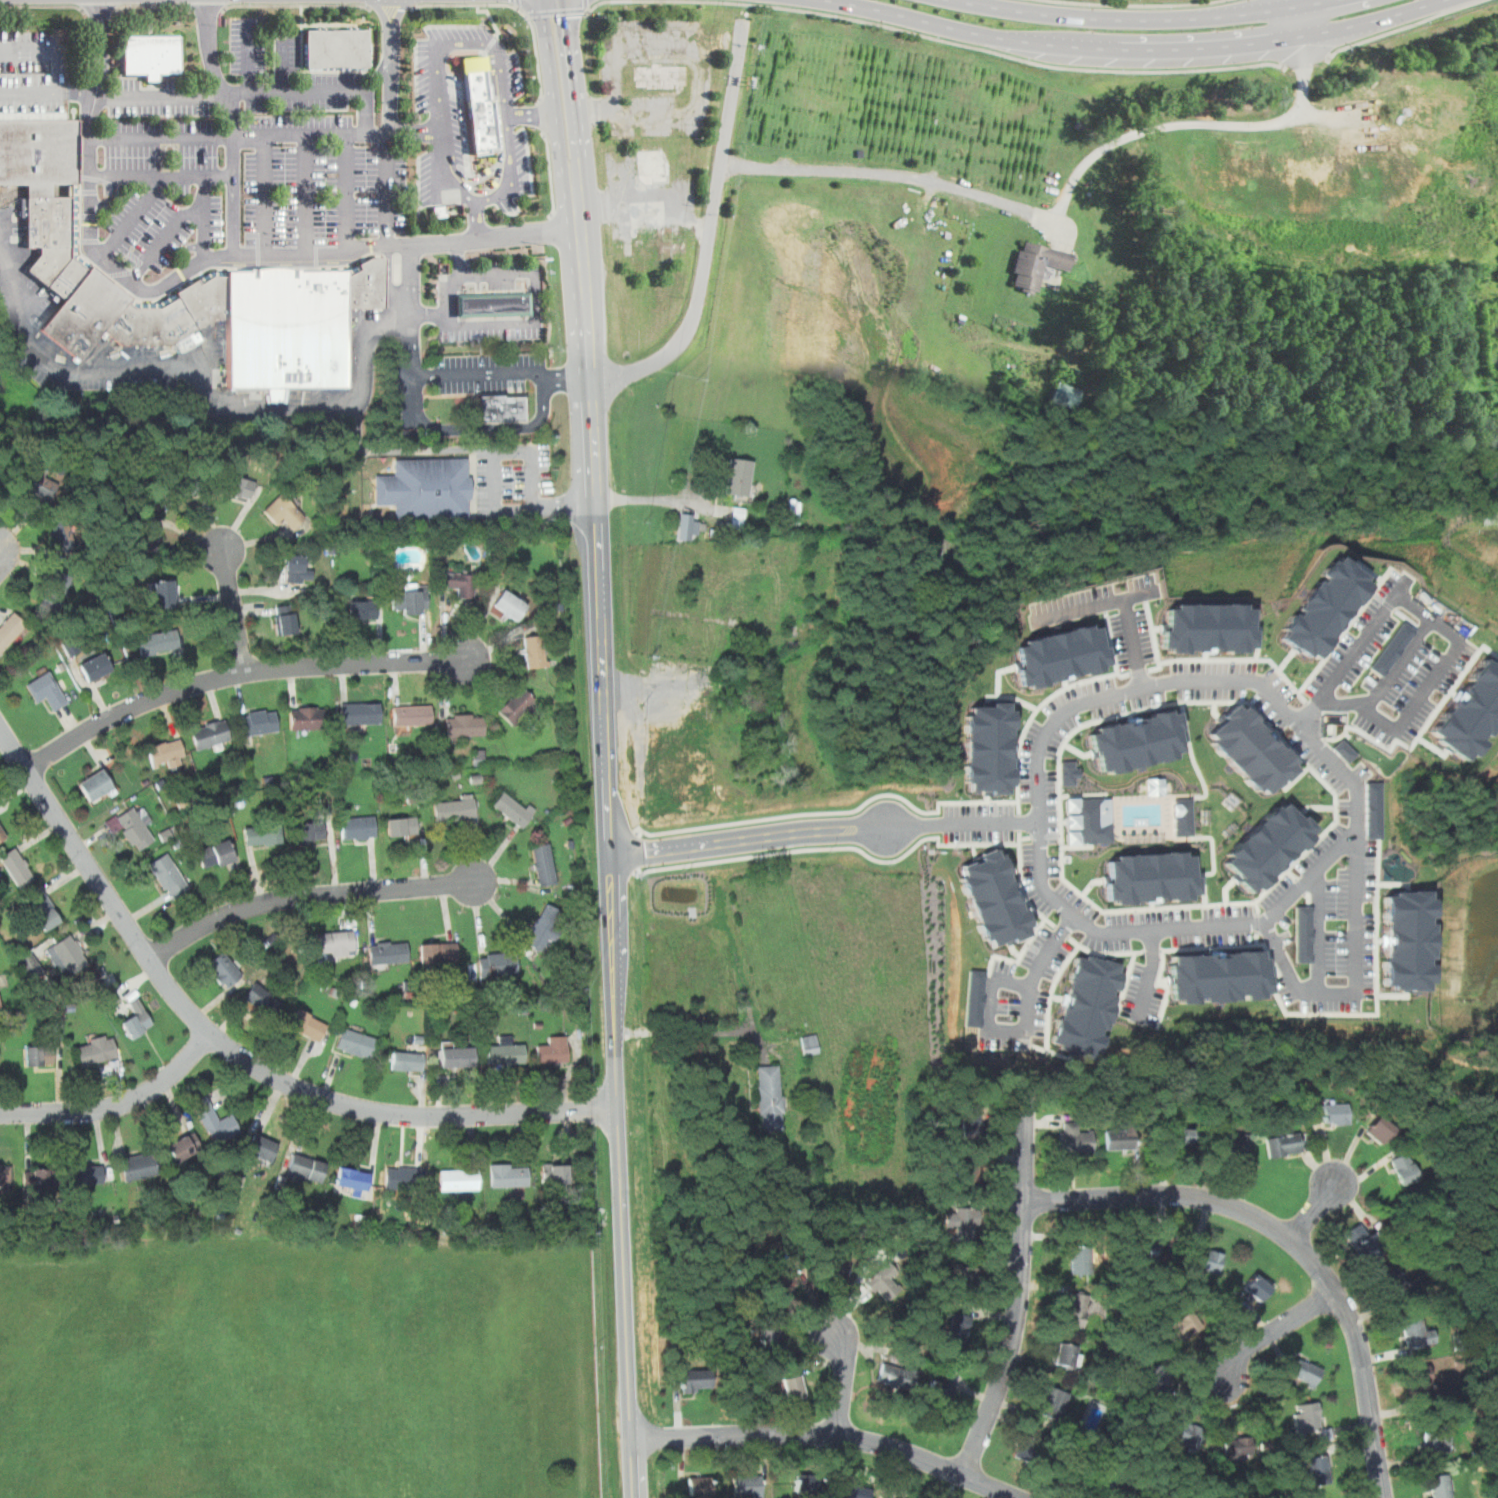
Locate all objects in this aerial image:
road: (1294, 1)
road: (518, 2)
road: (295, 3)
road: (1141, 3)
road: (151, 4)
road: (585, 4)
road: (43, 5)
road: (392, 5)
road: (515, 5)
road: (518, 5)
road: (593, 5)
road: (100, 6)
road: (206, 6)
road: (557, 9)
road: (527, 13)
road: (490, 15)
traffic signals: (569, 16)
road: (1133, 16)
road: (1299, 19)
road: (1398, 26)
road: (493, 40)
road: (977, 45)
building: (337, 46)
road: (1140, 49)
building: (152, 53)
road: (250, 56)
road: (1302, 59)
road: (58, 61)
road: (283, 65)
road: (251, 92)
road: (579, 94)
road: (29, 96)
road: (553, 96)
crop: (903, 103)
building: (479, 104)
road: (530, 112)
road: (541, 114)
parking lot: (471, 119)
road: (390, 123)
road: (231, 125)
road: (415, 131)
road: (240, 135)
road: (500, 135)
parking lot: (248, 146)
building: (38, 152)
road: (551, 172)
road: (162, 174)
road: (510, 182)
road: (483, 187)
road: (349, 191)
road: (306, 192)
road: (266, 194)
road: (1061, 205)
road: (133, 215)
road: (479, 217)
road: (176, 222)
road: (710, 230)
building: (49, 233)
road: (204, 234)
road: (201, 259)
building: (1035, 263)
building: (68, 277)
road: (388, 282)
building: (367, 283)
road: (449, 288)
building: (205, 299)
building: (494, 303)
building: (86, 312)
road: (480, 322)
building: (151, 324)
building: (287, 327)
road: (436, 376)
parking lot: (458, 381)
building: (1063, 394)
building: (503, 409)
road: (282, 411)
road: (479, 427)
building: (738, 477)
road: (708, 483)
building: (39, 485)
building: (238, 487)
building: (183, 489)
building: (425, 489)
road: (495, 499)
road: (653, 500)
building: (283, 511)
building: (147, 534)
building: (62, 537)
road: (1361, 566)
building: (296, 568)
building: (460, 584)
building: (58, 587)
building: (164, 593)
building: (407, 601)
road: (1092, 602)
building: (509, 604)
building: (1318, 608)
road: (233, 609)
building: (362, 609)
building: (284, 619)
road: (1340, 623)
road: (1437, 627)
building: (1203, 628)
road: (1153, 629)
building: (10, 630)
road: (1337, 633)
building: (803, 634)
road: (1151, 636)
road: (1108, 637)
road: (1132, 641)
road: (1254, 641)
building: (157, 642)
road: (1107, 644)
building: (1389, 649)
building: (535, 651)
road: (1490, 651)
building: (1059, 656)
road: (1204, 657)
road: (1246, 660)
road: (1286, 663)
road: (1396, 665)
building: (95, 667)
road: (237, 673)
road: (998, 676)
road: (1066, 684)
building: (47, 691)
road: (1452, 693)
road: (1012, 697)
road: (1044, 703)
building: (515, 705)
road: (1216, 709)
road: (1319, 709)
building: (1470, 712)
building: (360, 713)
building: (412, 715)
road: (1132, 716)
building: (309, 718)
road: (1347, 721)
building: (258, 723)
building: (465, 725)
road: (1187, 730)
road: (1423, 730)
road: (1273, 731)
road: (1279, 733)
building: (210, 735)
road: (1348, 735)
building: (1139, 741)
road: (1310, 743)
building: (1340, 747)
road: (1433, 747)
building: (989, 748)
road: (1018, 748)
road: (1080, 750)
building: (1253, 750)
building: (165, 753)
building: (1348, 755)
road: (1195, 758)
building: (1072, 773)
road: (1299, 776)
building: (95, 785)
road: (1287, 786)
road: (1086, 795)
road: (1351, 795)
road: (1109, 796)
road: (989, 799)
road: (1317, 807)
building: (455, 808)
parking lot: (981, 808)
building: (514, 809)
road: (836, 811)
building: (1372, 811)
road: (607, 812)
road: (1067, 821)
building: (1090, 822)
fountain: (1146, 822)
building: (401, 826)
building: (358, 827)
building: (1181, 827)
building: (135, 828)
road: (824, 829)
building: (310, 830)
building: (2, 834)
building: (262, 834)
road: (1054, 835)
road: (1033, 837)
road: (1095, 844)
road: (1080, 846)
building: (1269, 847)
road: (829, 848)
road: (977, 850)
building: (215, 854)
road: (1216, 862)
building: (543, 865)
road: (1289, 866)
building: (16, 867)
road: (1024, 874)
road: (1203, 874)
road: (1293, 874)
building: (168, 875)
building: (1153, 878)
road: (1393, 883)
road: (1095, 885)
road: (1302, 886)
road: (1408, 887)
road: (1023, 890)
road: (1229, 890)
road: (309, 895)
road: (1087, 895)
building: (996, 899)
road: (1309, 899)
parking lot: (1330, 900)
road: (1156, 906)
building: (42, 909)
road: (1258, 923)
building: (545, 927)
road: (1317, 930)
building: (1304, 934)
road: (1074, 938)
building: (1407, 940)
building: (335, 942)
road: (1080, 947)
road: (1027, 948)
road: (1217, 949)
building: (437, 951)
road: (1017, 951)
road: (1160, 951)
road: (1146, 952)
building: (388, 953)
building: (67, 956)
road: (1103, 957)
building: (498, 964)
building: (32, 966)
building: (224, 969)
parking lot: (1146, 973)
road: (1153, 973)
road: (994, 976)
building: (1218, 976)
road: (1354, 979)
road: (1164, 980)
building: (978, 991)
road: (1407, 993)
road: (1392, 995)
road: (1058, 998)
building: (263, 1000)
building: (0, 1004)
building: (1087, 1006)
road: (1284, 1011)
building: (135, 1020)
building: (976, 1020)
building: (306, 1025)
road: (1028, 1027)
road: (701, 1033)
building: (355, 1042)
building: (810, 1044)
building: (96, 1050)
road: (231, 1050)
building: (553, 1050)
building: (505, 1052)
building: (39, 1055)
road: (1062, 1056)
building: (457, 1057)
building: (407, 1061)
building: (770, 1097)
road: (117, 1104)
building: (1336, 1113)
building: (215, 1121)
building: (969, 1122)
road: (1043, 1122)
road: (1329, 1128)
building: (1380, 1130)
building: (1178, 1137)
building: (1120, 1138)
building: (1075, 1139)
road: (1366, 1140)
building: (1233, 1142)
building: (1283, 1144)
building: (183, 1147)
building: (262, 1148)
road: (1027, 1150)
road: (1128, 1154)
road: (1327, 1154)
road: (1296, 1155)
road: (1348, 1156)
building: (138, 1166)
road: (1320, 1167)
road: (1388, 1167)
building: (306, 1168)
building: (1404, 1169)
building: (554, 1173)
building: (87, 1174)
road: (1365, 1174)
building: (508, 1175)
building: (967, 1175)
road: (1075, 1175)
road: (1138, 1175)
building: (5, 1178)
building: (39, 1178)
building: (404, 1179)
building: (458, 1179)
building: (352, 1181)
road: (1000, 1205)
road: (1313, 1212)
building: (963, 1223)
road: (1293, 1242)
building: (1145, 1245)
building: (1368, 1248)
building: (1081, 1260)
building: (1208, 1260)
building: (835, 1268)
building: (787, 1277)
building: (966, 1279)
building: (1392, 1280)
building: (883, 1281)
road: (1045, 1287)
building: (1255, 1287)
road: (794, 1292)
road: (855, 1294)
road: (817, 1309)
building: (1075, 1309)
road: (994, 1314)
road: (972, 1320)
building: (1182, 1328)
building: (954, 1330)
building: (1417, 1332)
building: (771, 1336)
road: (1272, 1339)
road: (1011, 1340)
building: (1063, 1355)
road: (821, 1363)
airport: (303, 1366)
building: (1304, 1371)
building: (897, 1375)
road: (804, 1377)
building: (1159, 1377)
building: (696, 1380)
road: (844, 1381)
building: (1422, 1382)
building: (791, 1386)
road: (861, 1389)
building: (939, 1390)
road: (974, 1392)
road: (952, 1395)
road: (688, 1397)
building: (1059, 1406)
road: (678, 1412)
building: (1306, 1417)
road: (829, 1432)
building: (1186, 1432)
building: (1436, 1440)
building: (1239, 1446)
building: (1024, 1449)
road: (634, 1467)
building: (1315, 1469)
building: (699, 1485)
building: (1439, 1485)
building: (748, 1486)
building: (804, 1486)
building: (1111, 1490)
building: (851, 1491)

